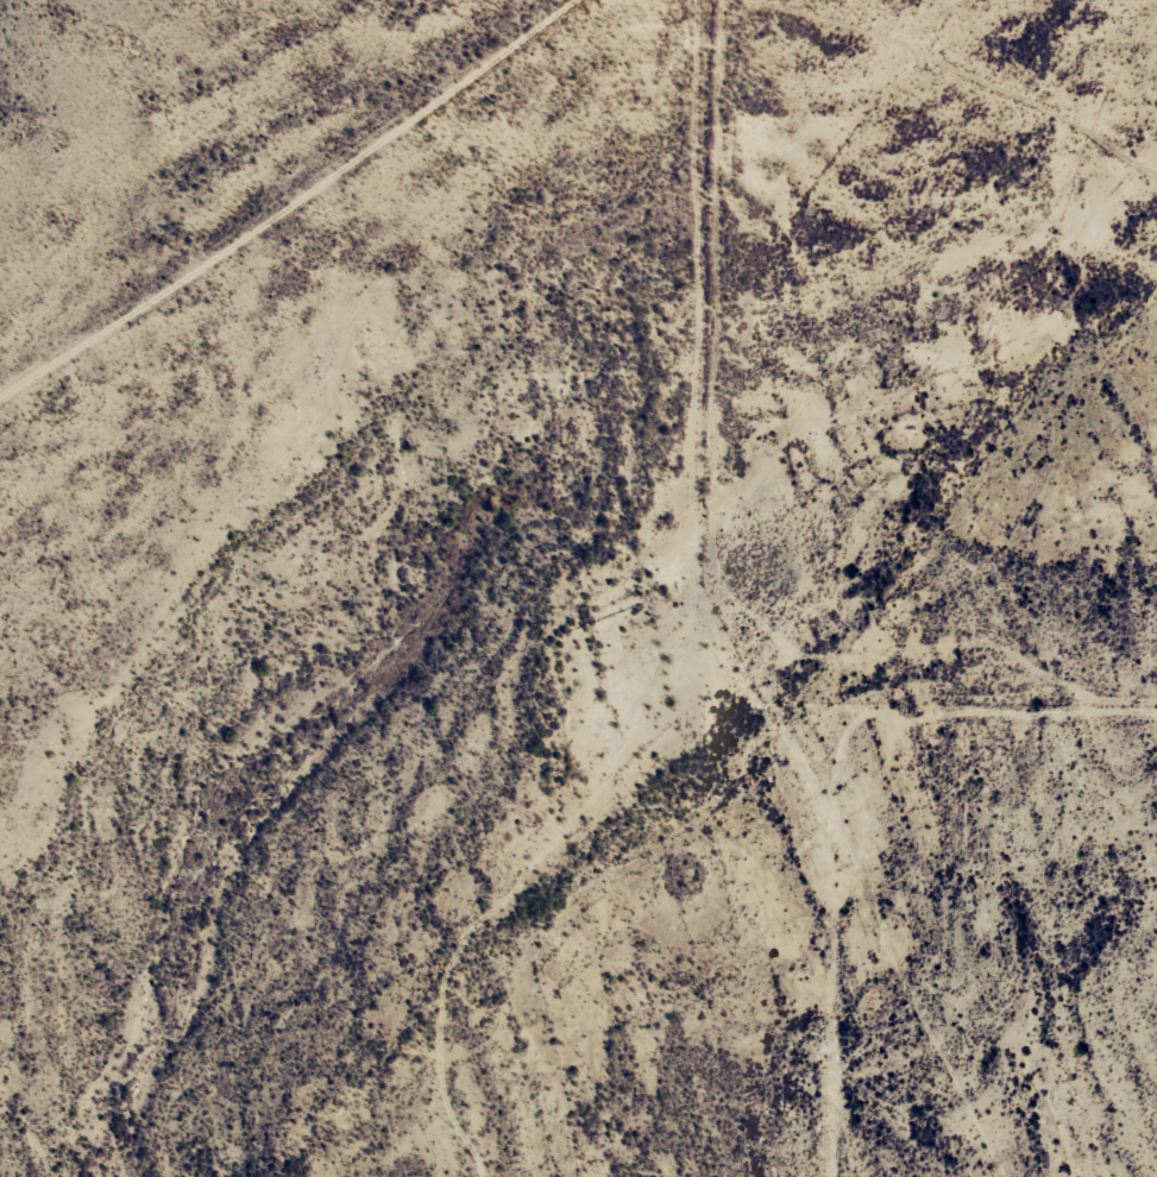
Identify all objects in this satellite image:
road: (654, 618)

